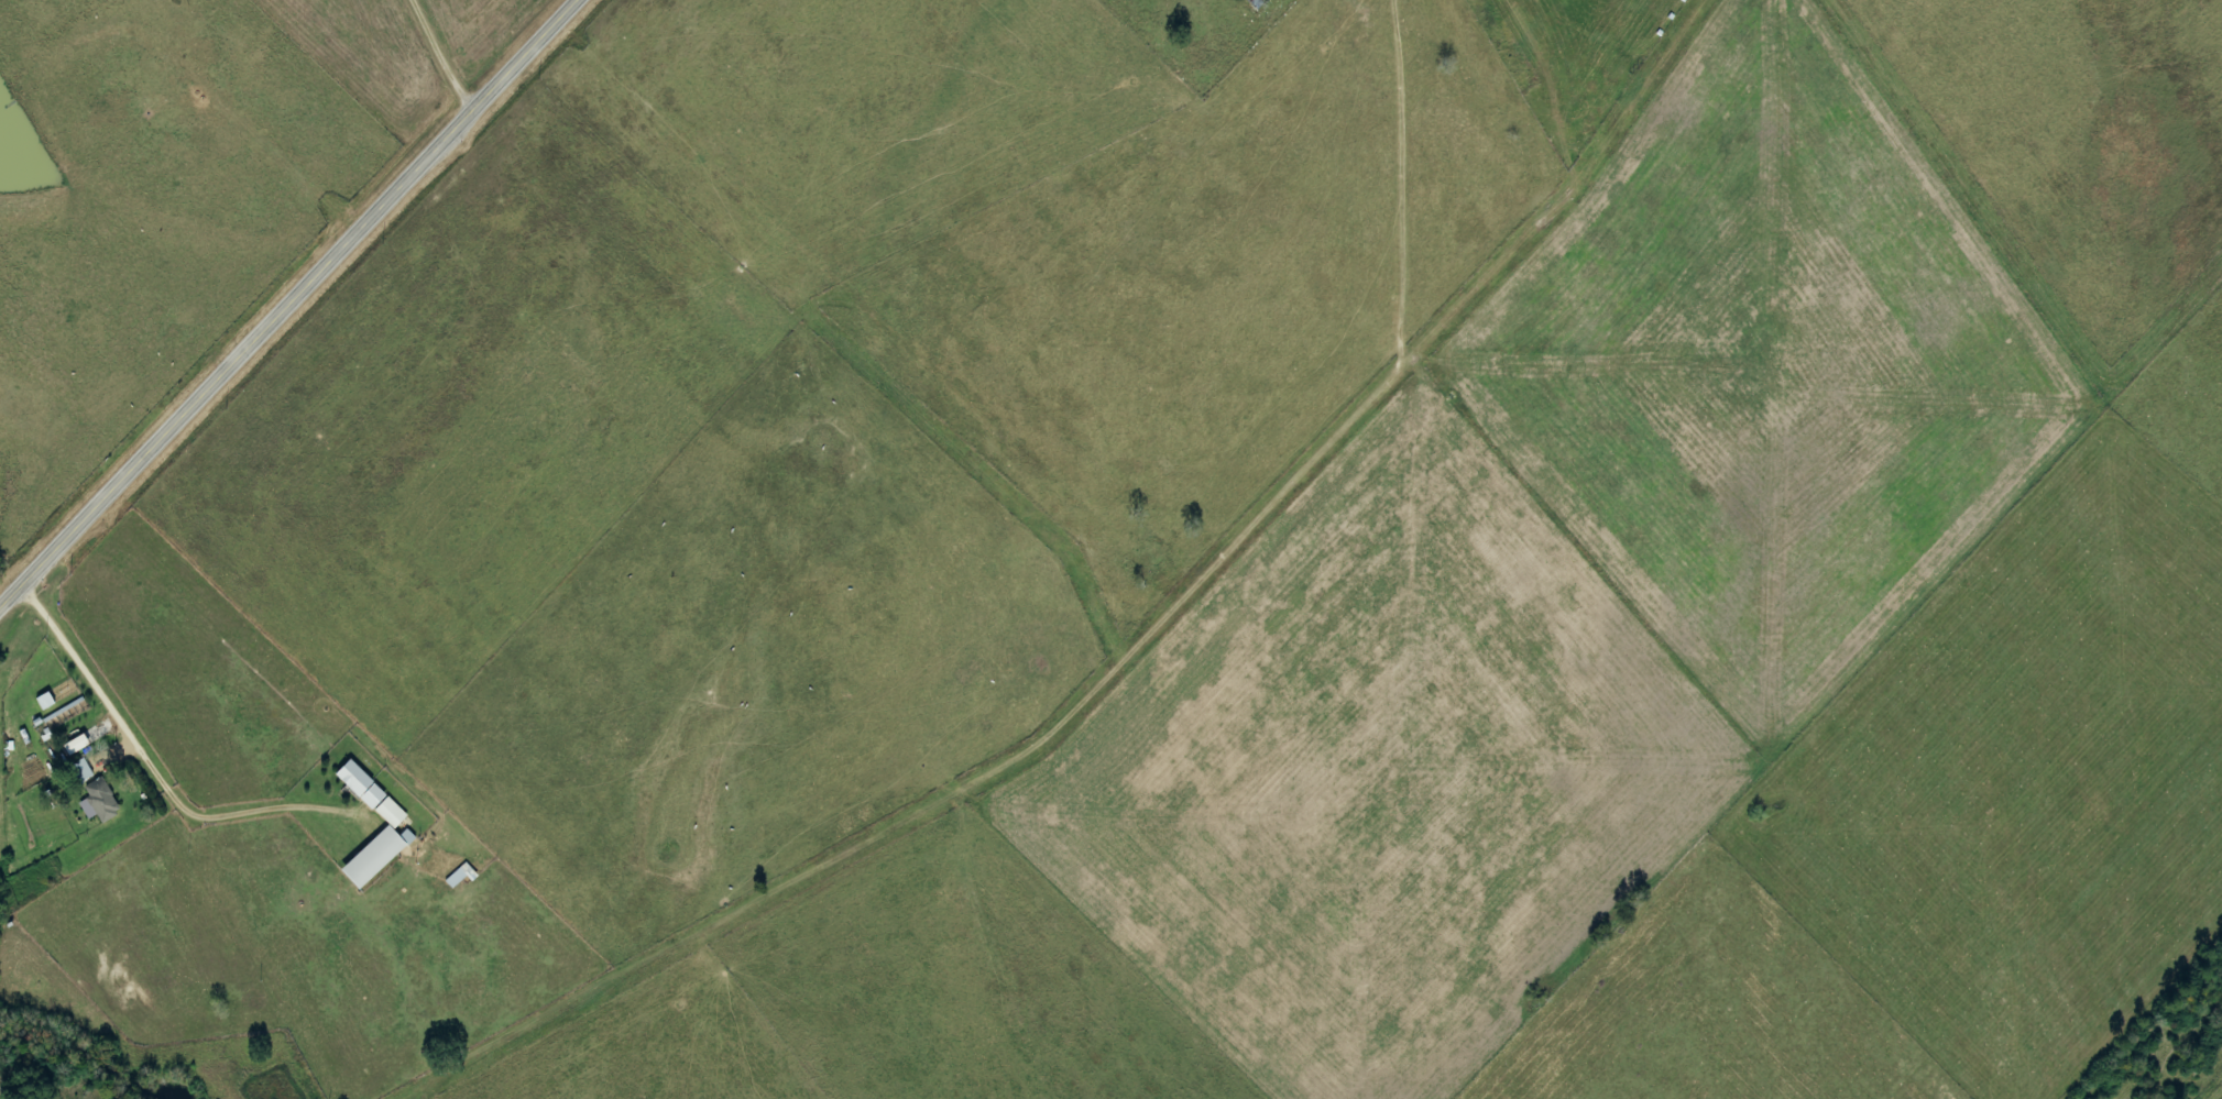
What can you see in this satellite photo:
road: (442, 56)
road: (287, 301)
road: (129, 746)
building: (77, 771)
building: (97, 800)
building: (374, 847)
building: (456, 877)

